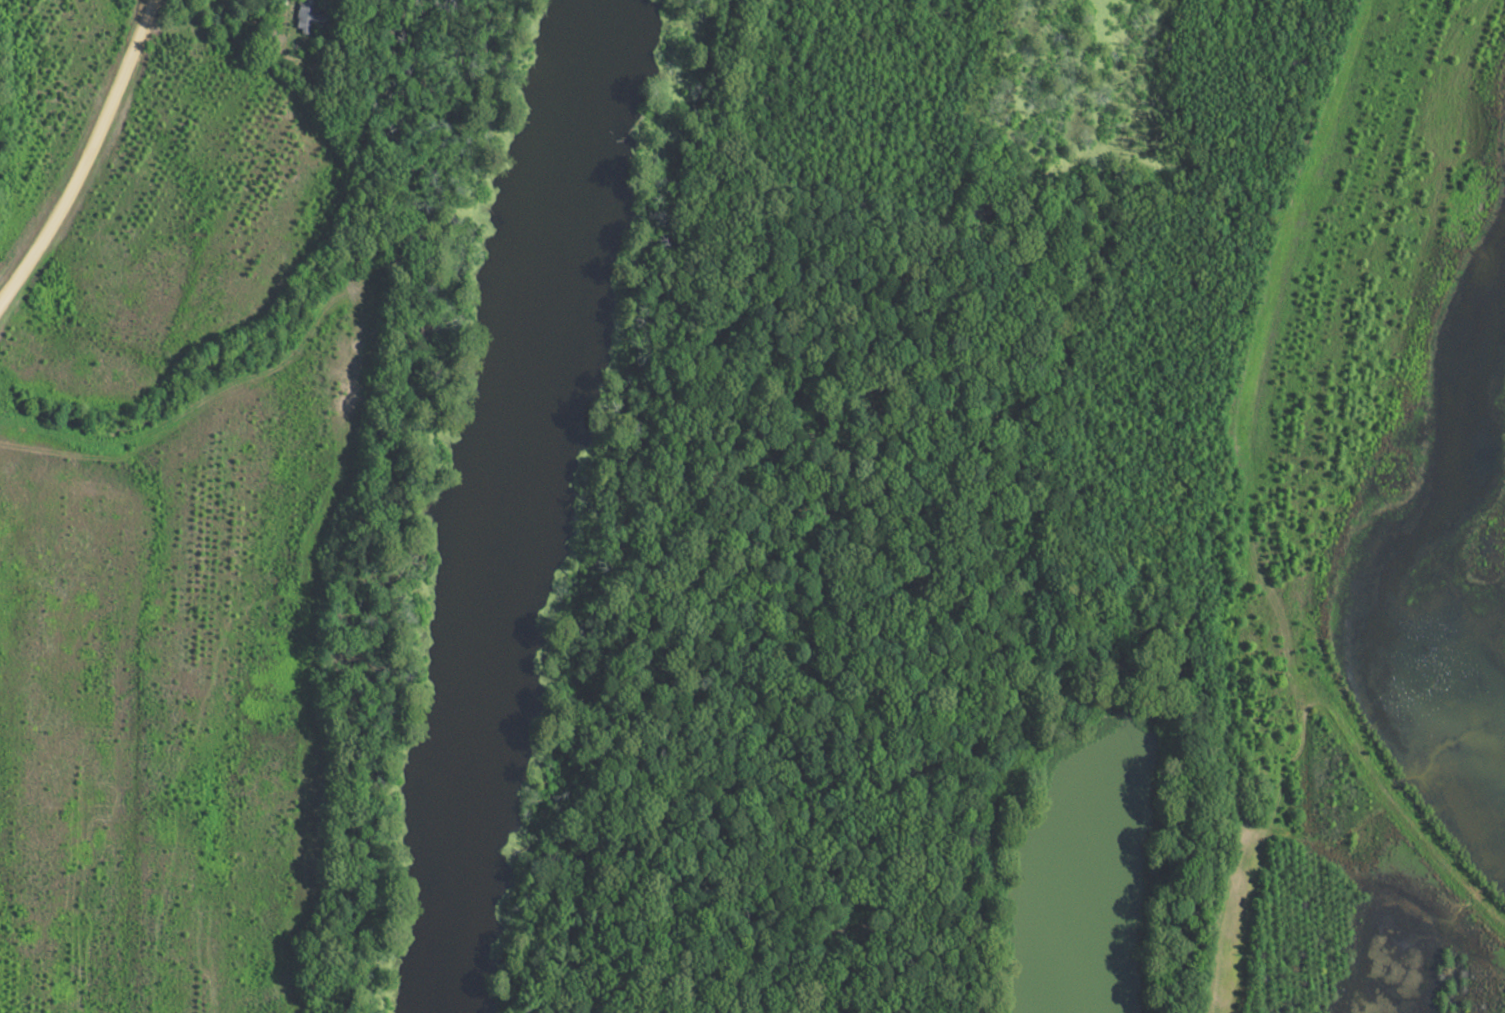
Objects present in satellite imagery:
road: (87, 156)
road: (1369, 892)

